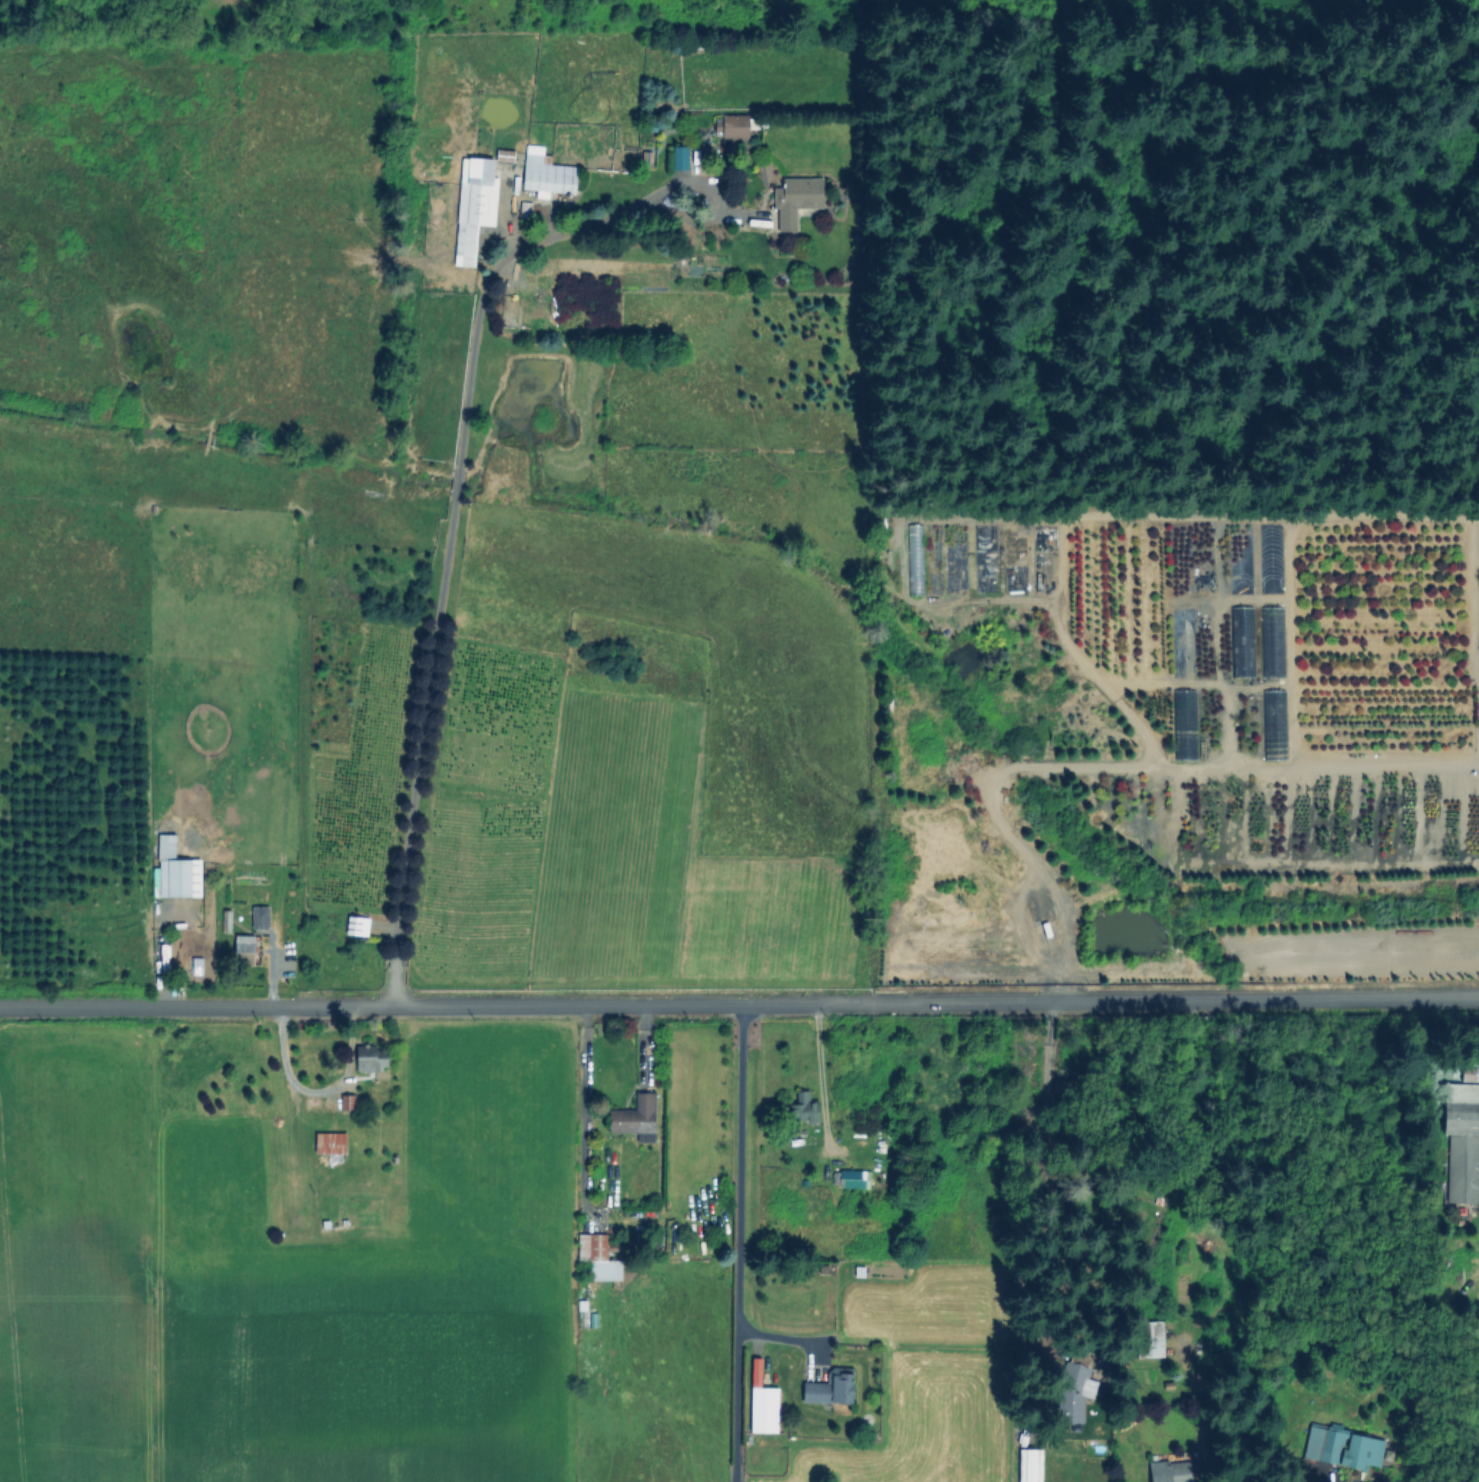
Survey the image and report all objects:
building: (730, 124)
building: (504, 154)
building: (679, 157)
building: (545, 173)
building: (792, 199)
building: (473, 205)
road: (454, 506)
building: (1269, 642)
building: (168, 845)
building: (177, 880)
building: (259, 916)
building: (228, 921)
building: (246, 951)
road: (271, 971)
road: (739, 1004)
building: (373, 1059)
road: (286, 1070)
road: (819, 1075)
road: (580, 1102)
building: (349, 1103)
building: (806, 1110)
building: (637, 1119)
building: (1462, 1139)
building: (333, 1143)
building: (862, 1181)
road: (738, 1243)
building: (600, 1259)
crop: (293, 1260)
building: (1152, 1340)
road: (8, 1380)
building: (1073, 1388)
building: (833, 1389)
building: (767, 1411)
building: (1343, 1447)
building: (1171, 1472)

